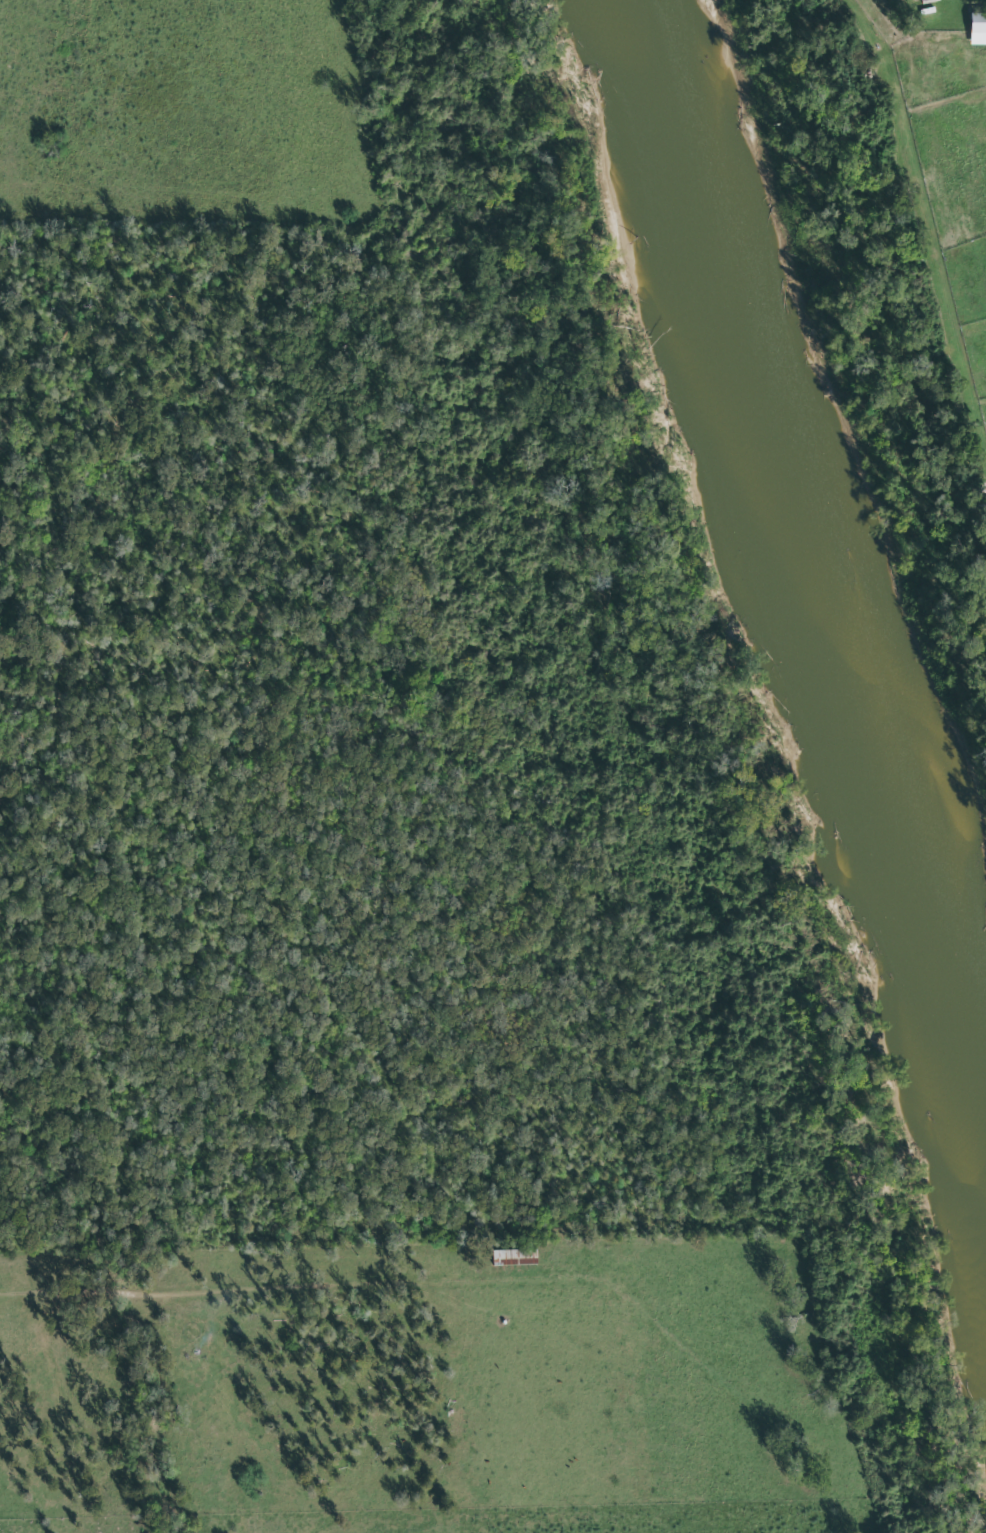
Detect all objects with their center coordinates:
building: (979, 30)
road: (922, 206)
river: (796, 548)
building: (513, 1258)

